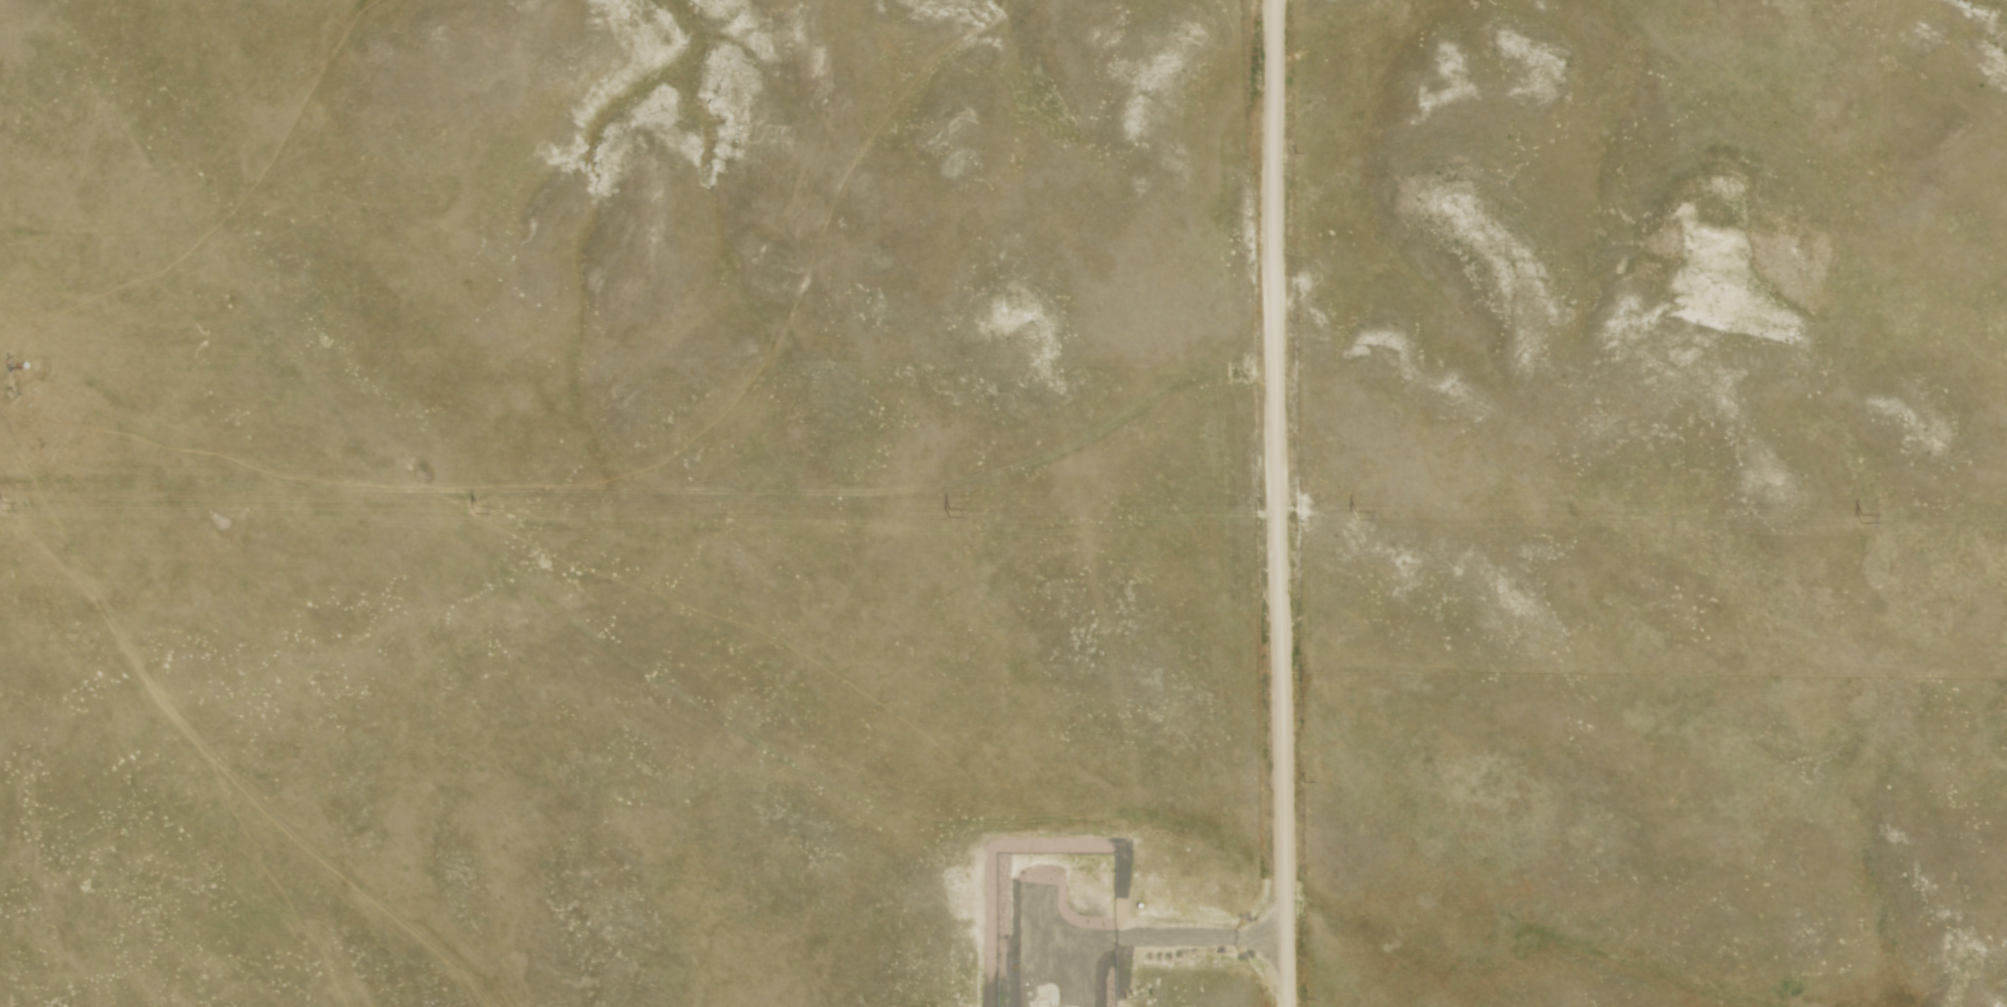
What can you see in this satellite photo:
road: (1272, 503)
power tower: (5, 505)
power tower: (477, 509)
power tower: (950, 511)
power tower: (1355, 514)
power tower: (1862, 517)
road: (1193, 944)

